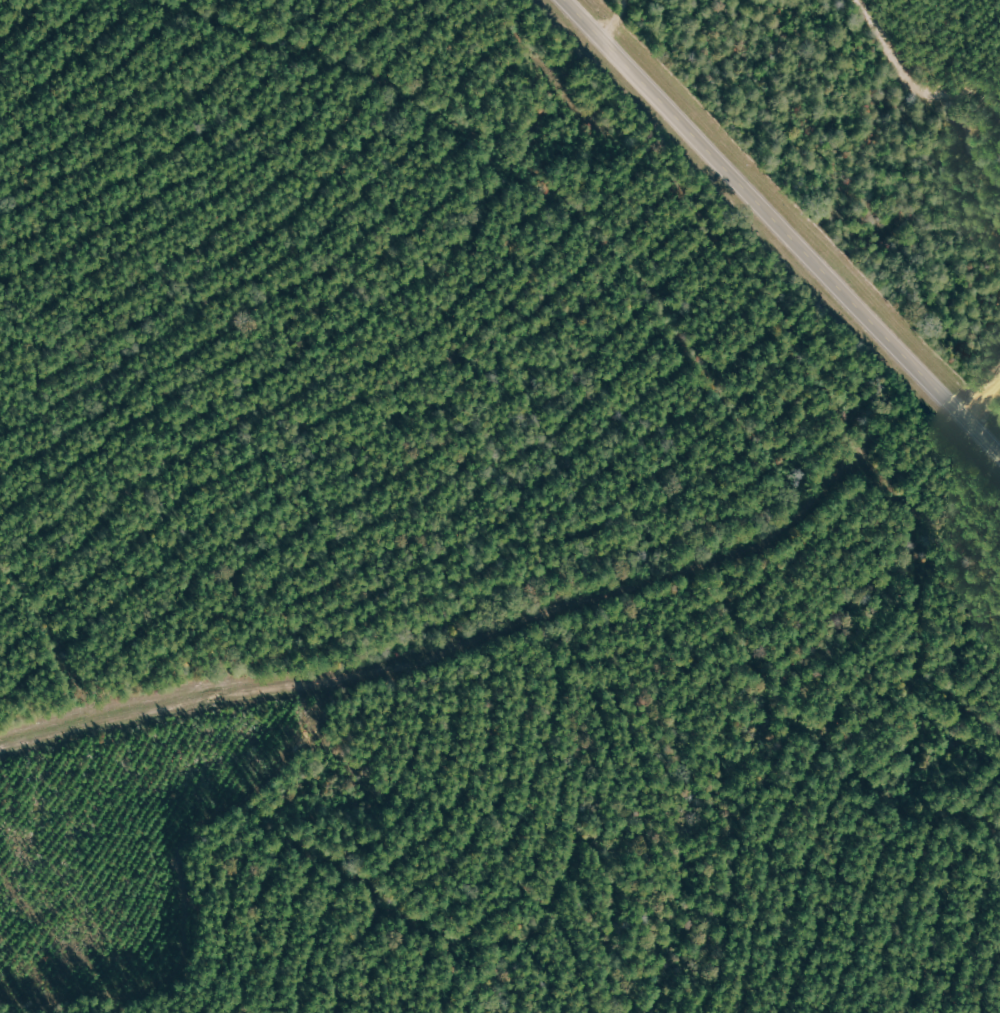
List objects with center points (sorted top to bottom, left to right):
road: (781, 229)

